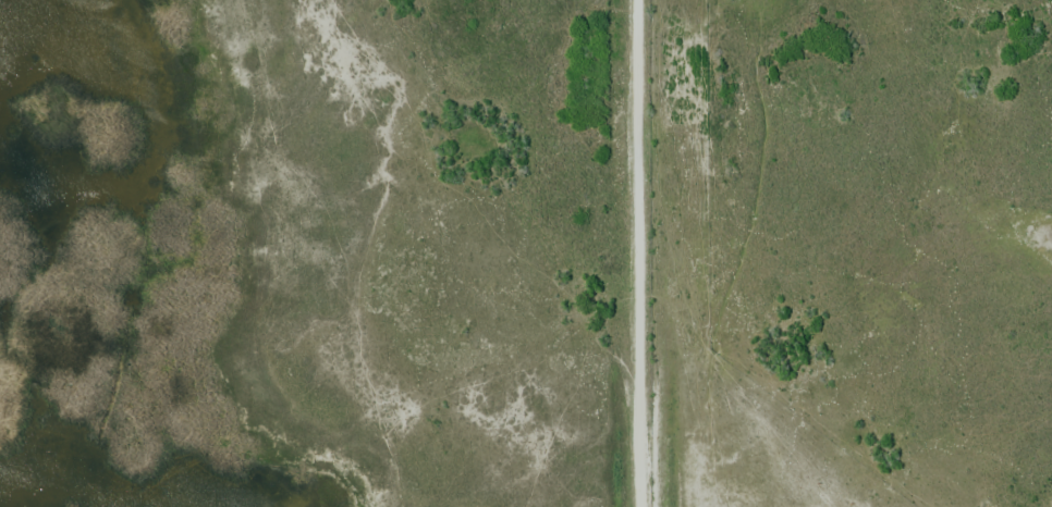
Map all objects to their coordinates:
road: (617, 253)

